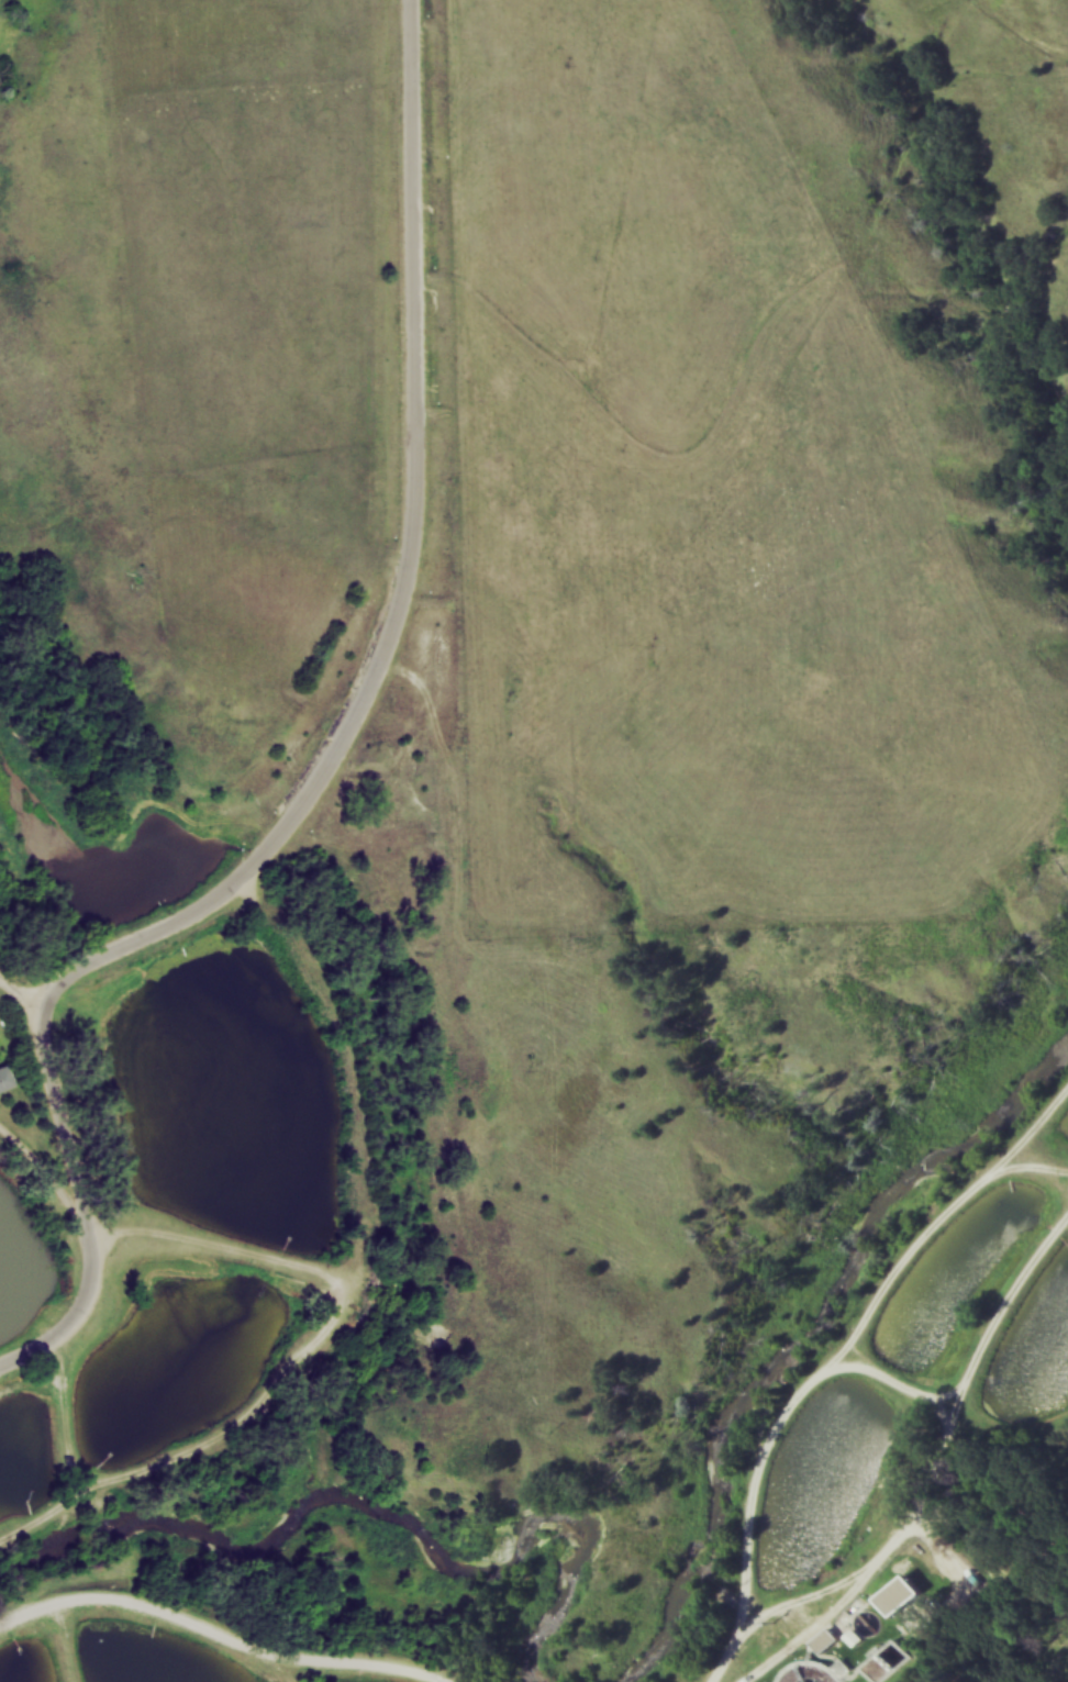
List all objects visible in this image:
road: (323, 764)
road: (23, 988)
building: (5, 1074)
road: (40, 1162)
road: (1033, 1170)
road: (292, 1362)
road: (769, 1450)
road: (943, 1477)
building: (899, 1594)
road: (221, 1635)
building: (827, 1640)

